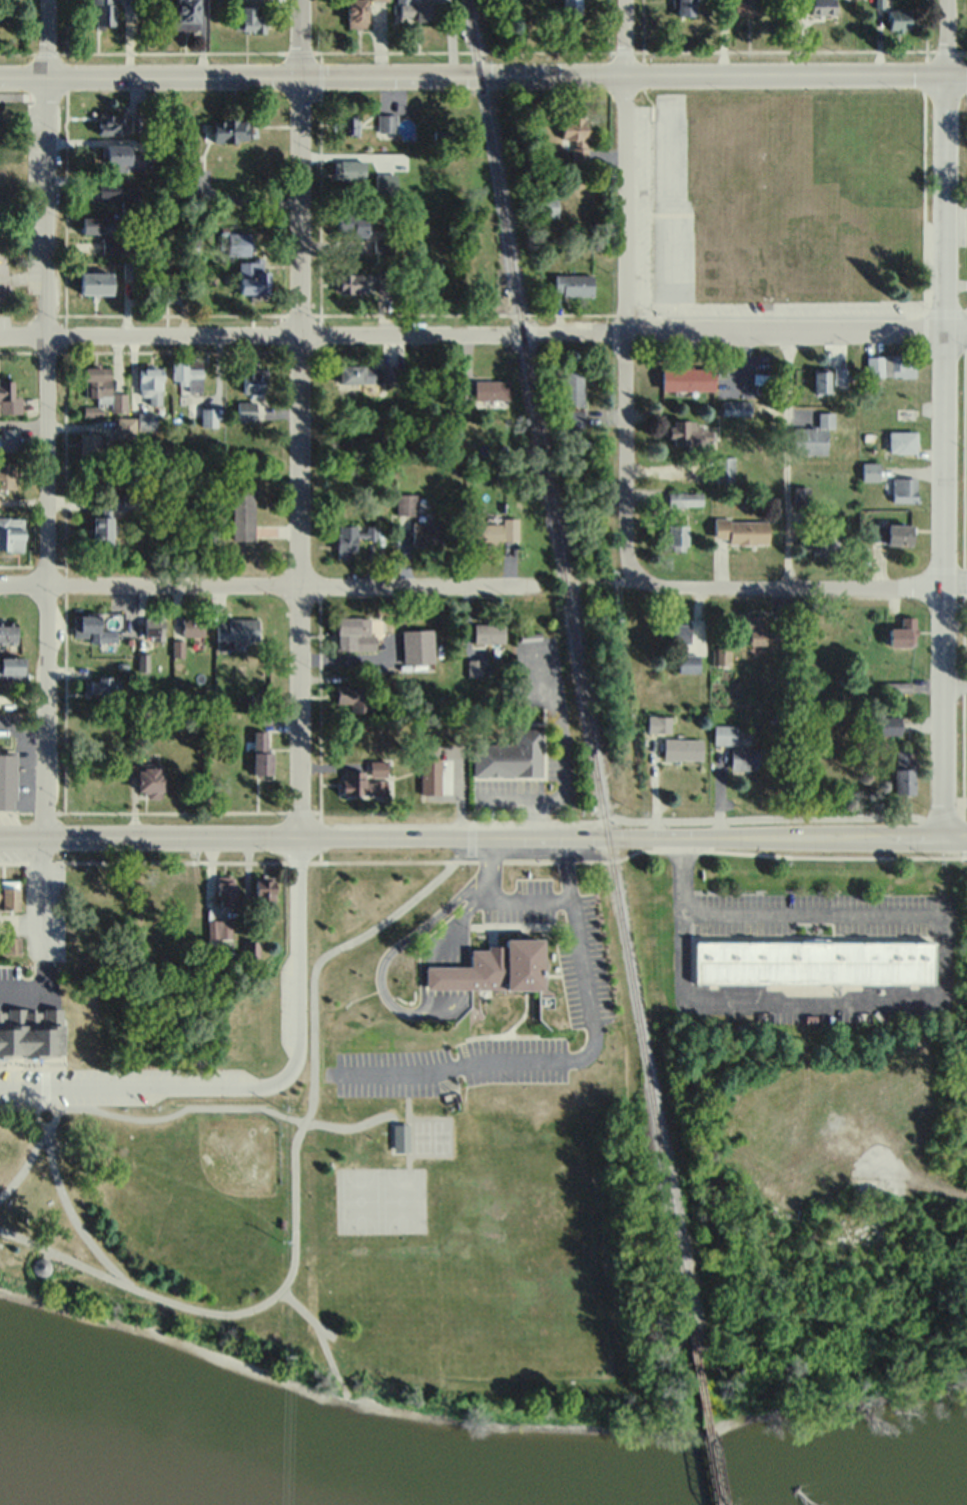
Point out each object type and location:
building: (253, 0)
building: (379, 0)
building: (131, 1)
building: (878, 3)
building: (747, 7)
building: (820, 7)
building: (570, 8)
building: (685, 8)
building: (417, 11)
building: (103, 12)
building: (184, 14)
building: (358, 14)
building: (899, 20)
building: (248, 22)
road: (15, 52)
road: (483, 73)
building: (387, 120)
building: (349, 121)
building: (112, 124)
building: (135, 124)
building: (230, 128)
building: (576, 138)
building: (158, 146)
building: (120, 157)
building: (725, 164)
building: (349, 168)
building: (115, 192)
parking lot: (35, 198)
park: (22, 204)
building: (548, 206)
building: (351, 222)
building: (97, 223)
building: (238, 242)
building: (114, 244)
building: (383, 245)
building: (129, 268)
building: (253, 276)
building: (385, 280)
building: (95, 281)
building: (347, 281)
building: (573, 286)
road: (623, 289)
building: (171, 291)
parking lot: (3, 323)
road: (954, 331)
road: (470, 332)
road: (14, 351)
building: (899, 365)
building: (188, 372)
building: (369, 373)
building: (839, 374)
building: (687, 377)
building: (253, 379)
building: (821, 380)
building: (96, 381)
building: (150, 383)
building: (573, 387)
building: (492, 389)
building: (8, 397)
building: (118, 401)
building: (734, 407)
building: (246, 409)
building: (905, 412)
building: (209, 416)
road: (941, 417)
road: (45, 418)
road: (298, 418)
building: (572, 418)
building: (146, 420)
building: (125, 427)
building: (687, 431)
building: (813, 435)
building: (10, 438)
building: (902, 440)
building: (89, 443)
road: (787, 458)
building: (724, 468)
building: (869, 470)
building: (7, 474)
building: (904, 488)
building: (800, 494)
building: (685, 499)
building: (110, 501)
building: (405, 502)
building: (242, 512)
building: (101, 528)
building: (494, 530)
building: (741, 530)
building: (427, 531)
building: (892, 532)
building: (11, 533)
building: (677, 536)
building: (345, 540)
building: (820, 541)
road: (964, 560)
road: (16, 564)
road: (954, 578)
road: (269, 583)
road: (789, 585)
building: (154, 624)
building: (192, 624)
building: (777, 626)
building: (90, 627)
building: (235, 628)
building: (751, 629)
building: (7, 632)
building: (354, 632)
building: (488, 632)
building: (675, 632)
building: (903, 632)
building: (417, 646)
building: (721, 656)
railway: (576, 660)
building: (142, 661)
building: (689, 661)
building: (11, 666)
road: (954, 680)
building: (101, 686)
building: (895, 686)
building: (357, 693)
building: (103, 720)
building: (659, 722)
building: (725, 732)
building: (137, 743)
building: (683, 747)
building: (260, 750)
building: (511, 756)
building: (749, 757)
building: (429, 771)
building: (904, 771)
building: (7, 779)
building: (149, 779)
building: (358, 782)
road: (15, 812)
road: (723, 818)
parking lot: (8, 824)
road: (483, 835)
road: (472, 840)
road: (717, 849)
street lamp: (57, 858)
road: (463, 859)
road: (381, 860)
road: (495, 862)
road: (479, 863)
building: (224, 891)
building: (180, 894)
building: (264, 894)
building: (10, 897)
road: (572, 920)
building: (195, 930)
building: (219, 931)
road: (43, 935)
building: (12, 947)
building: (250, 952)
road: (420, 956)
road: (463, 963)
building: (814, 964)
road: (451, 965)
building: (496, 967)
road: (443, 969)
road: (436, 974)
road: (429, 978)
road: (901, 1003)
road: (400, 1008)
building: (31, 1033)
road: (589, 1047)
road: (455, 1067)
parking lot: (57, 1084)
road: (265, 1084)
road: (30, 1109)
road: (126, 1115)
road: (36, 1119)
park: (431, 1135)
building: (398, 1136)
road: (25, 1164)
road: (911, 1175)
road: (300, 1196)
park: (379, 1199)
road: (843, 1216)
park: (358, 1219)
railway: (706, 1412)
river: (159, 1449)

